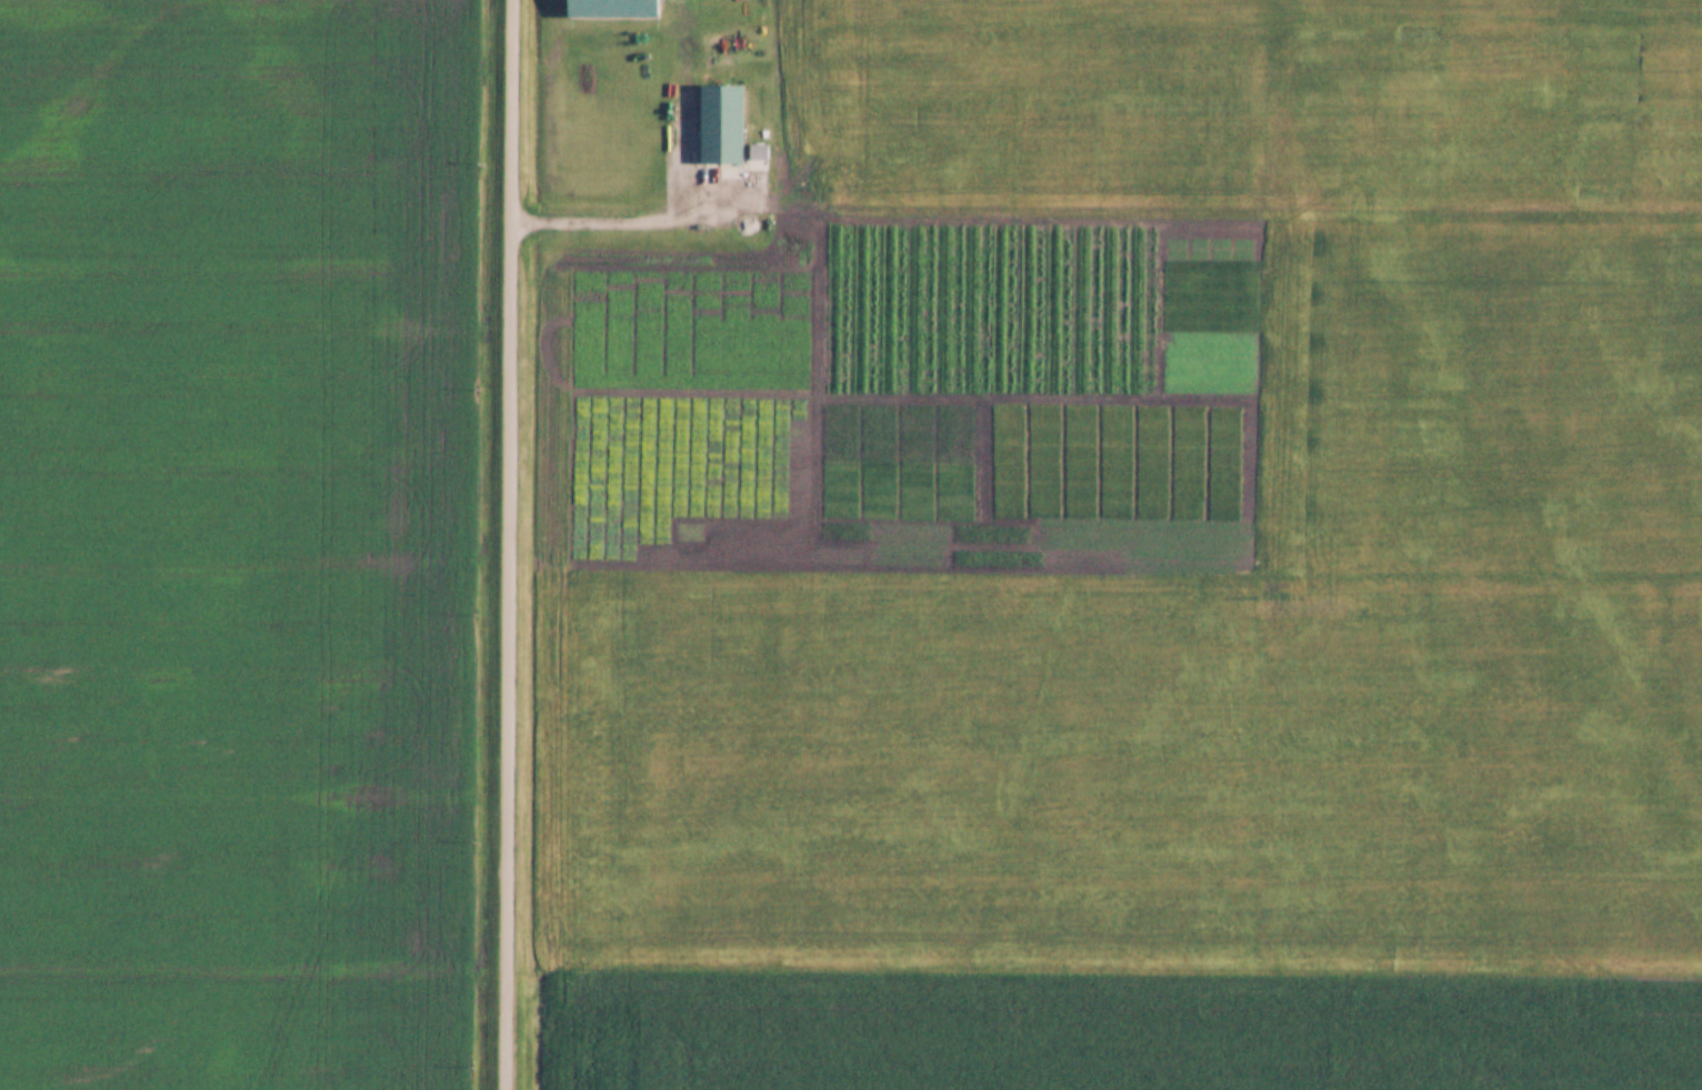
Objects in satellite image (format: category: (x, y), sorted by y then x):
building: (718, 122)
building: (685, 161)
road: (648, 219)
road: (512, 545)

